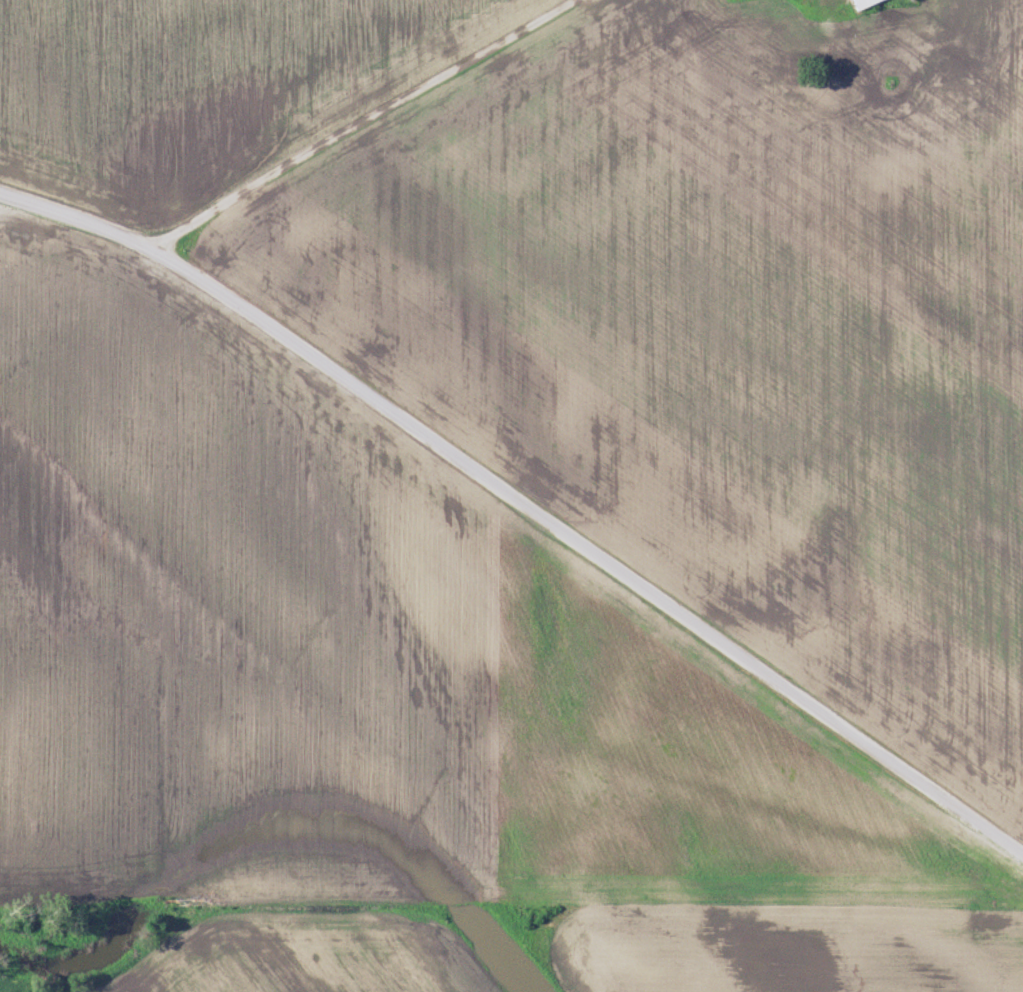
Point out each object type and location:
building: (866, 4)
road: (371, 121)
road: (524, 500)

